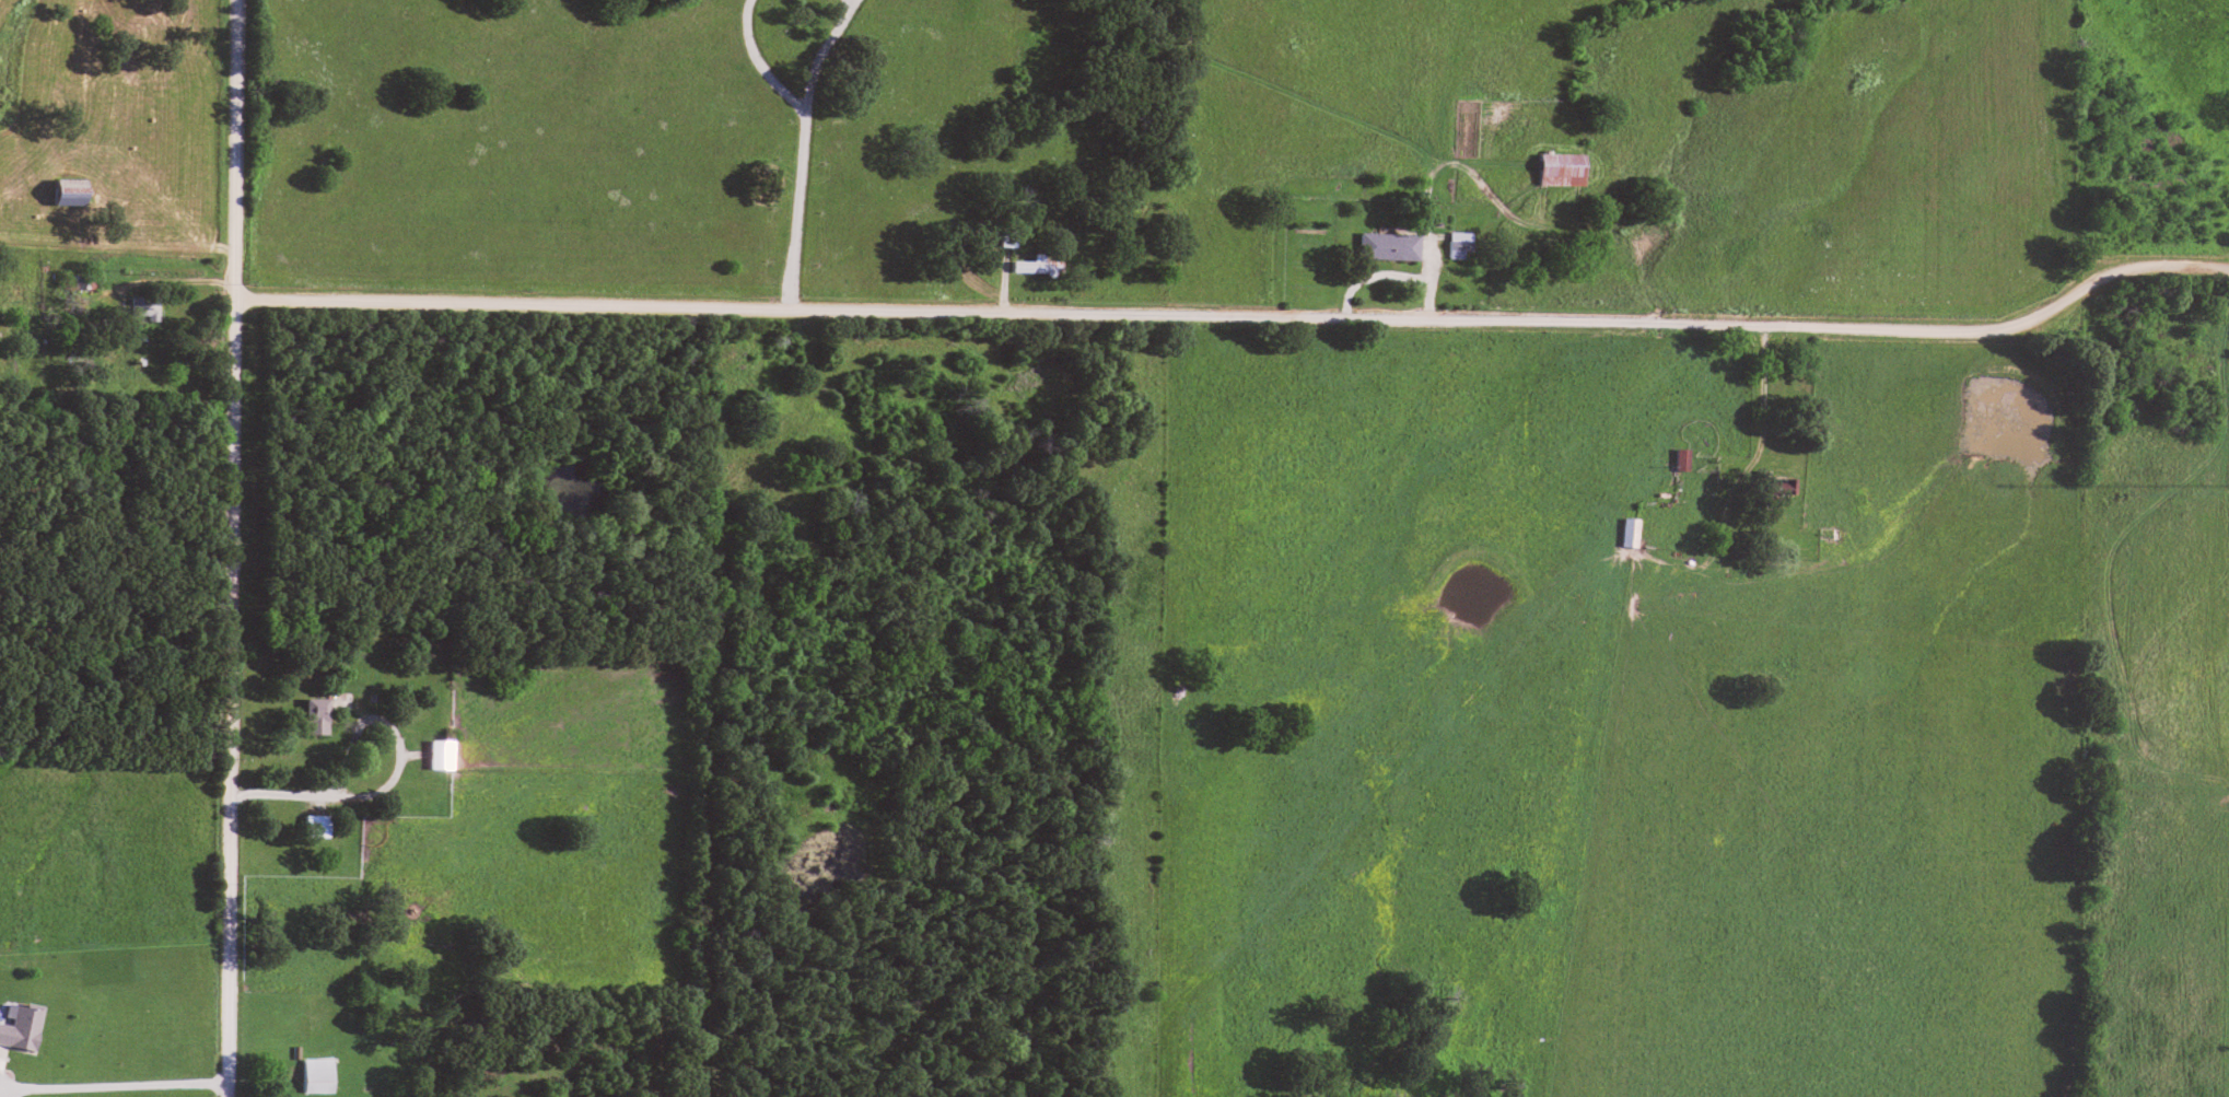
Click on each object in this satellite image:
road: (820, 52)
road: (759, 63)
building: (1559, 166)
building: (67, 188)
road: (796, 207)
building: (1458, 241)
building: (1388, 243)
road: (154, 276)
building: (145, 304)
road: (1237, 311)
road: (1761, 395)
building: (1627, 529)
road: (231, 548)
building: (315, 713)
building: (441, 751)
road: (396, 756)
road: (276, 791)
building: (316, 822)
building: (19, 1023)
building: (316, 1073)
road: (113, 1082)

